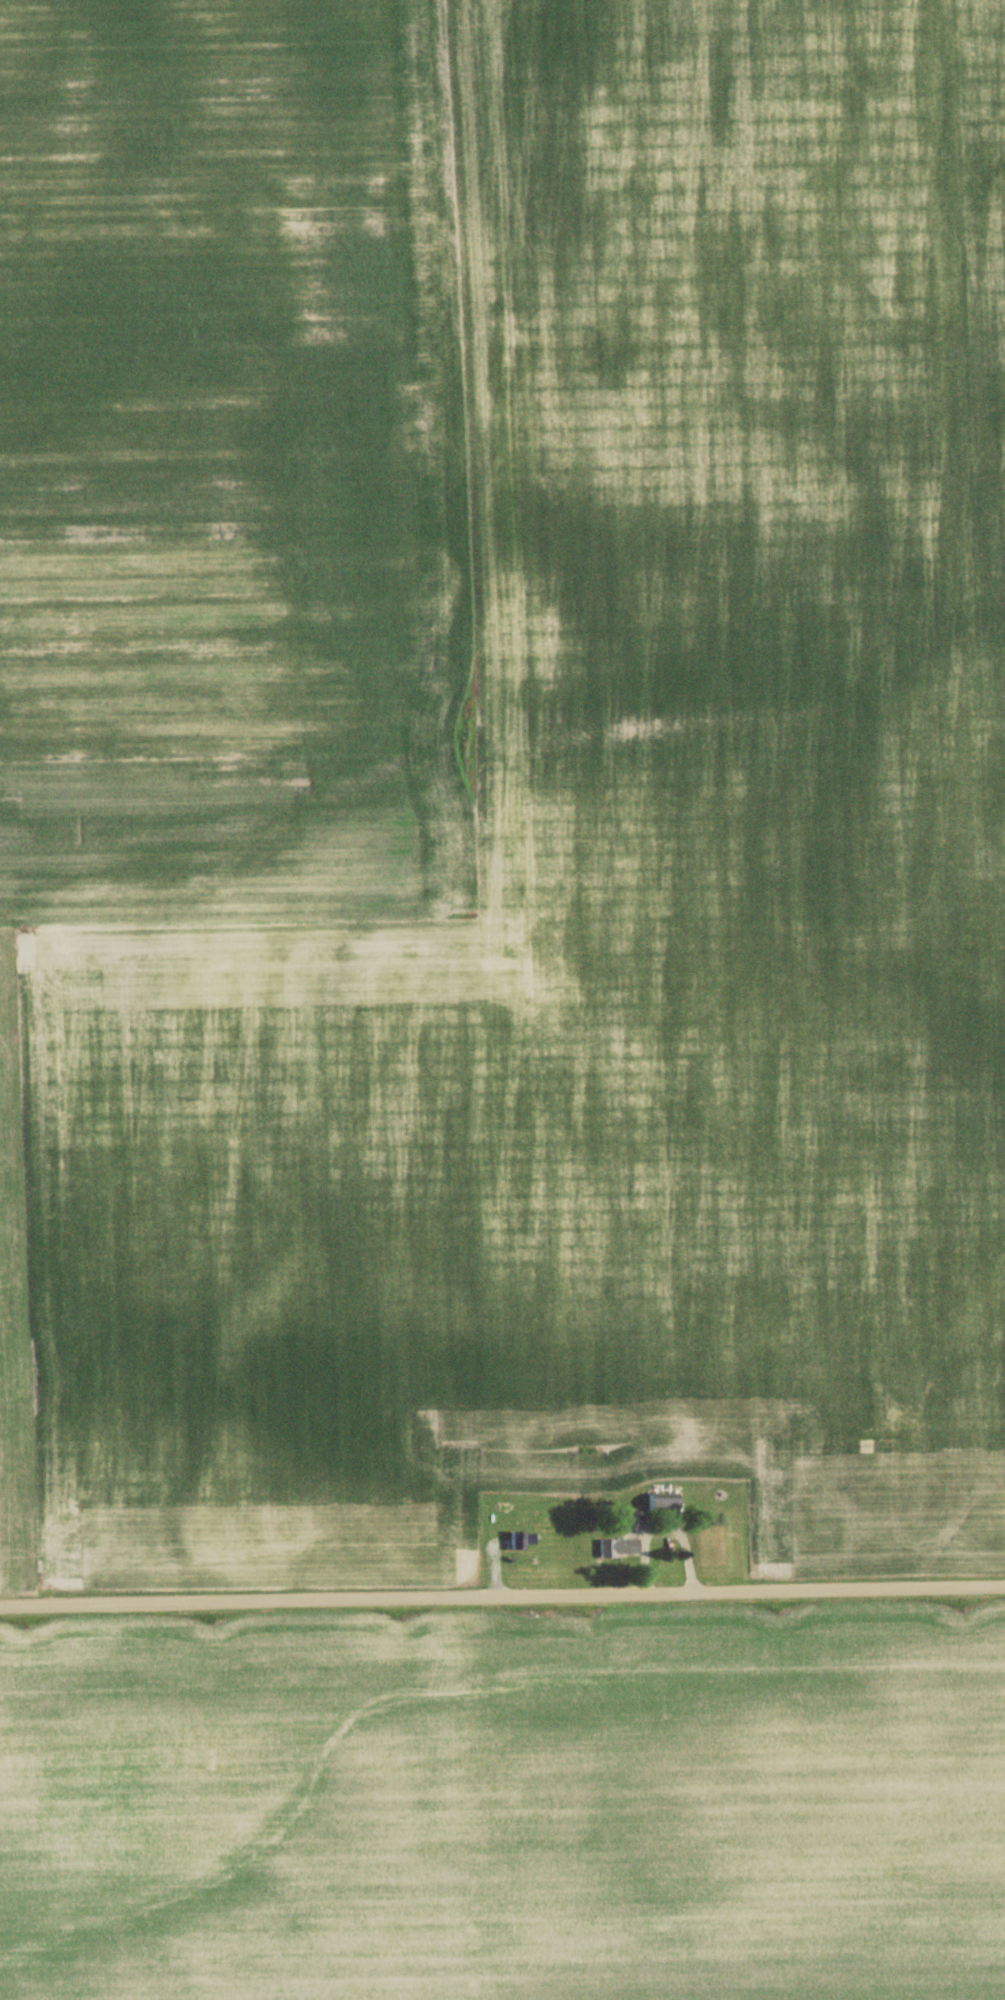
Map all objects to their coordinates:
road: (502, 1598)

